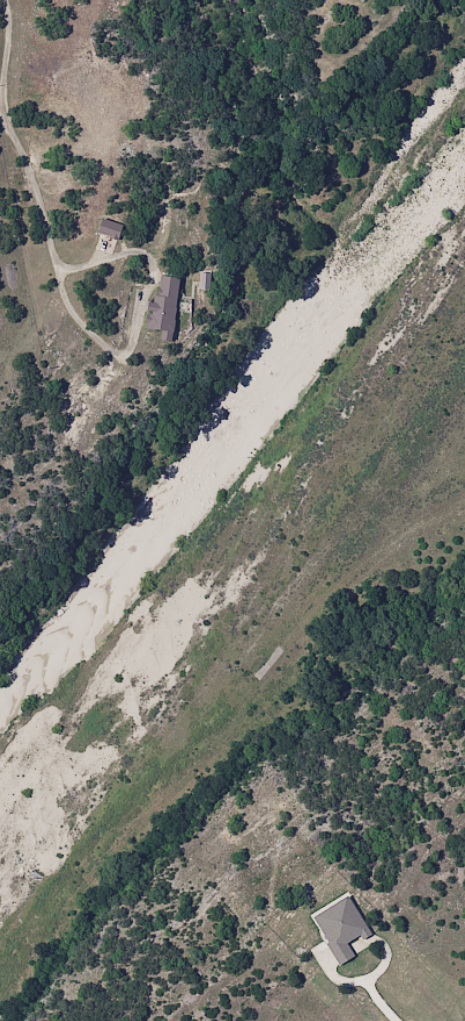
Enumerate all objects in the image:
building: (383, 3)
road: (41, 209)
building: (108, 228)
building: (163, 305)
river: (232, 428)
building: (343, 929)

